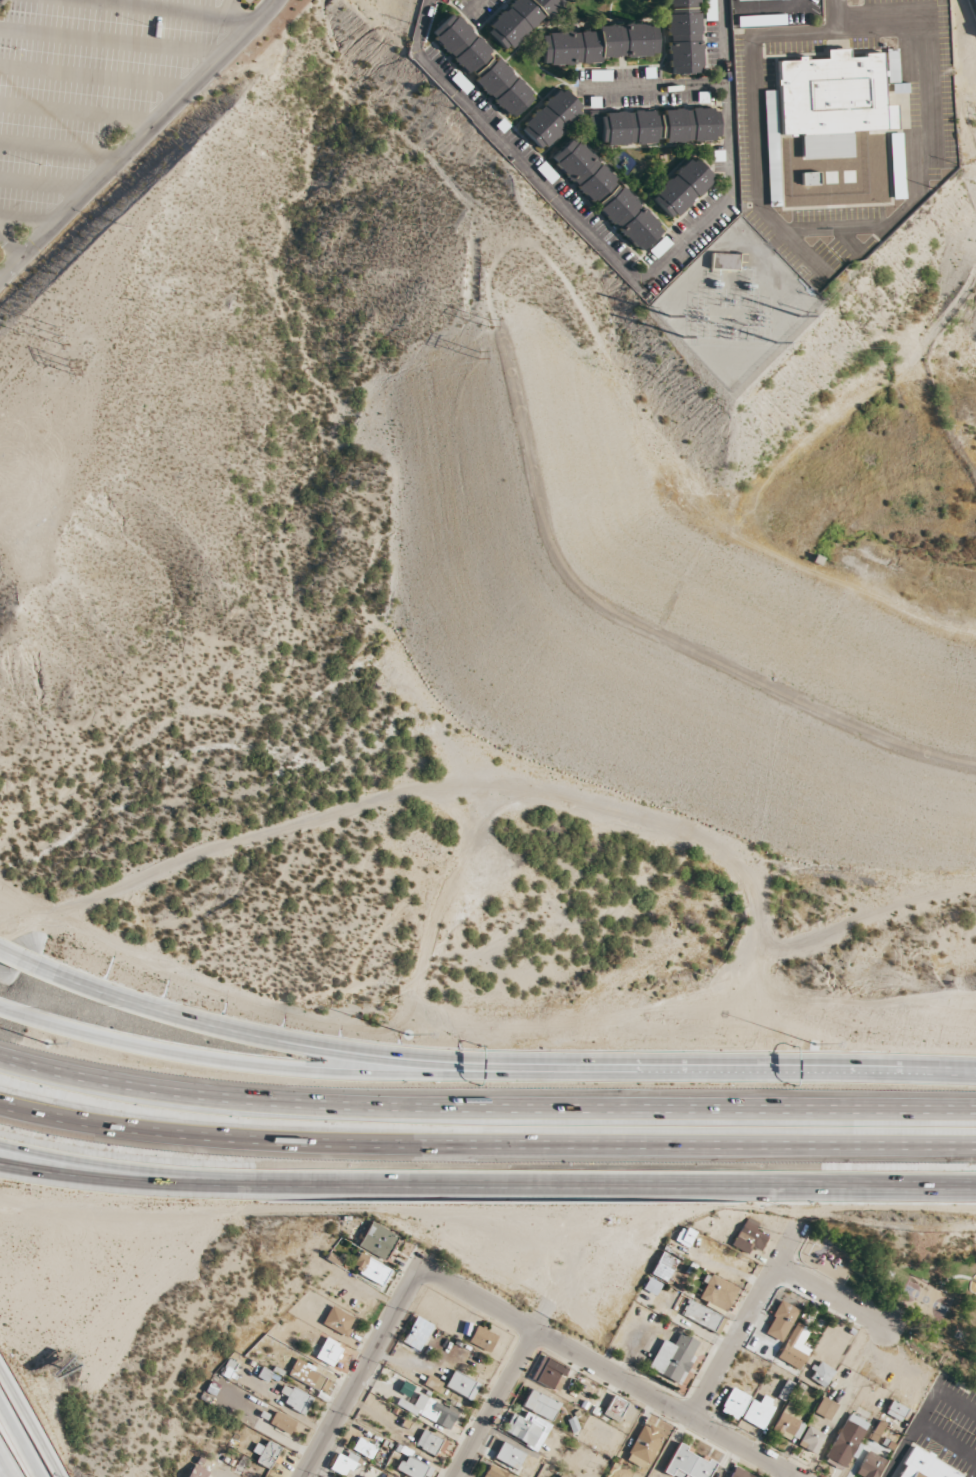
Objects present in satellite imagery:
building: (737, 0)
parking lot: (246, 1)
building: (974, 4)
parking garage: (974, 4)
road: (472, 7)
road: (767, 7)
road: (229, 8)
road: (169, 10)
building: (709, 15)
building: (760, 20)
building: (519, 21)
road: (810, 34)
building: (682, 36)
road: (110, 41)
building: (598, 44)
building: (481, 65)
building: (890, 67)
building: (600, 75)
road: (94, 76)
parking lot: (86, 83)
building: (460, 83)
road: (650, 86)
building: (831, 101)
road: (77, 113)
building: (550, 118)
building: (657, 126)
road: (932, 136)
road: (137, 139)
road: (61, 147)
building: (772, 161)
building: (896, 165)
road: (758, 171)
building: (546, 172)
building: (809, 178)
road: (44, 184)
building: (681, 187)
building: (605, 194)
road: (27, 219)
road: (849, 241)
road: (10, 245)
building: (659, 247)
building: (723, 261)
road: (618, 265)
power substation: (733, 303)
road: (17, 958)
road: (499, 1059)
road: (313, 1069)
road: (485, 1109)
road: (486, 1146)
road: (77, 1159)
road: (487, 1185)
building: (684, 1237)
building: (748, 1237)
building: (377, 1241)
building: (662, 1266)
building: (370, 1268)
park: (901, 1274)
building: (650, 1286)
building: (717, 1293)
road: (478, 1297)
road: (831, 1297)
building: (700, 1315)
road: (747, 1319)
building: (337, 1321)
building: (780, 1321)
building: (416, 1334)
building: (481, 1339)
building: (794, 1347)
building: (328, 1352)
building: (673, 1358)
building: (227, 1368)
road: (360, 1371)
building: (549, 1373)
building: (306, 1374)
building: (820, 1374)
building: (264, 1375)
building: (432, 1384)
building: (461, 1385)
building: (784, 1390)
building: (295, 1399)
road: (665, 1401)
road: (495, 1403)
building: (734, 1403)
building: (540, 1405)
building: (615, 1408)
building: (825, 1408)
building: (430, 1411)
building: (758, 1411)
building: (895, 1411)
building: (281, 1422)
building: (788, 1423)
parking lot: (947, 1424)
road: (28, 1425)
building: (526, 1429)
building: (810, 1440)
building: (846, 1440)
road: (19, 1442)
building: (431, 1443)
building: (643, 1446)
building: (364, 1448)
building: (265, 1454)
building: (508, 1455)
road: (897, 1459)
building: (343, 1463)
building: (687, 1464)
building: (869, 1465)
building: (923, 1466)
building: (415, 1467)
road: (2, 1471)
building: (197, 1472)
building: (494, 1472)
building: (735, 1473)
building: (388, 1475)
building: (360, 1476)
building: (560, 1476)

